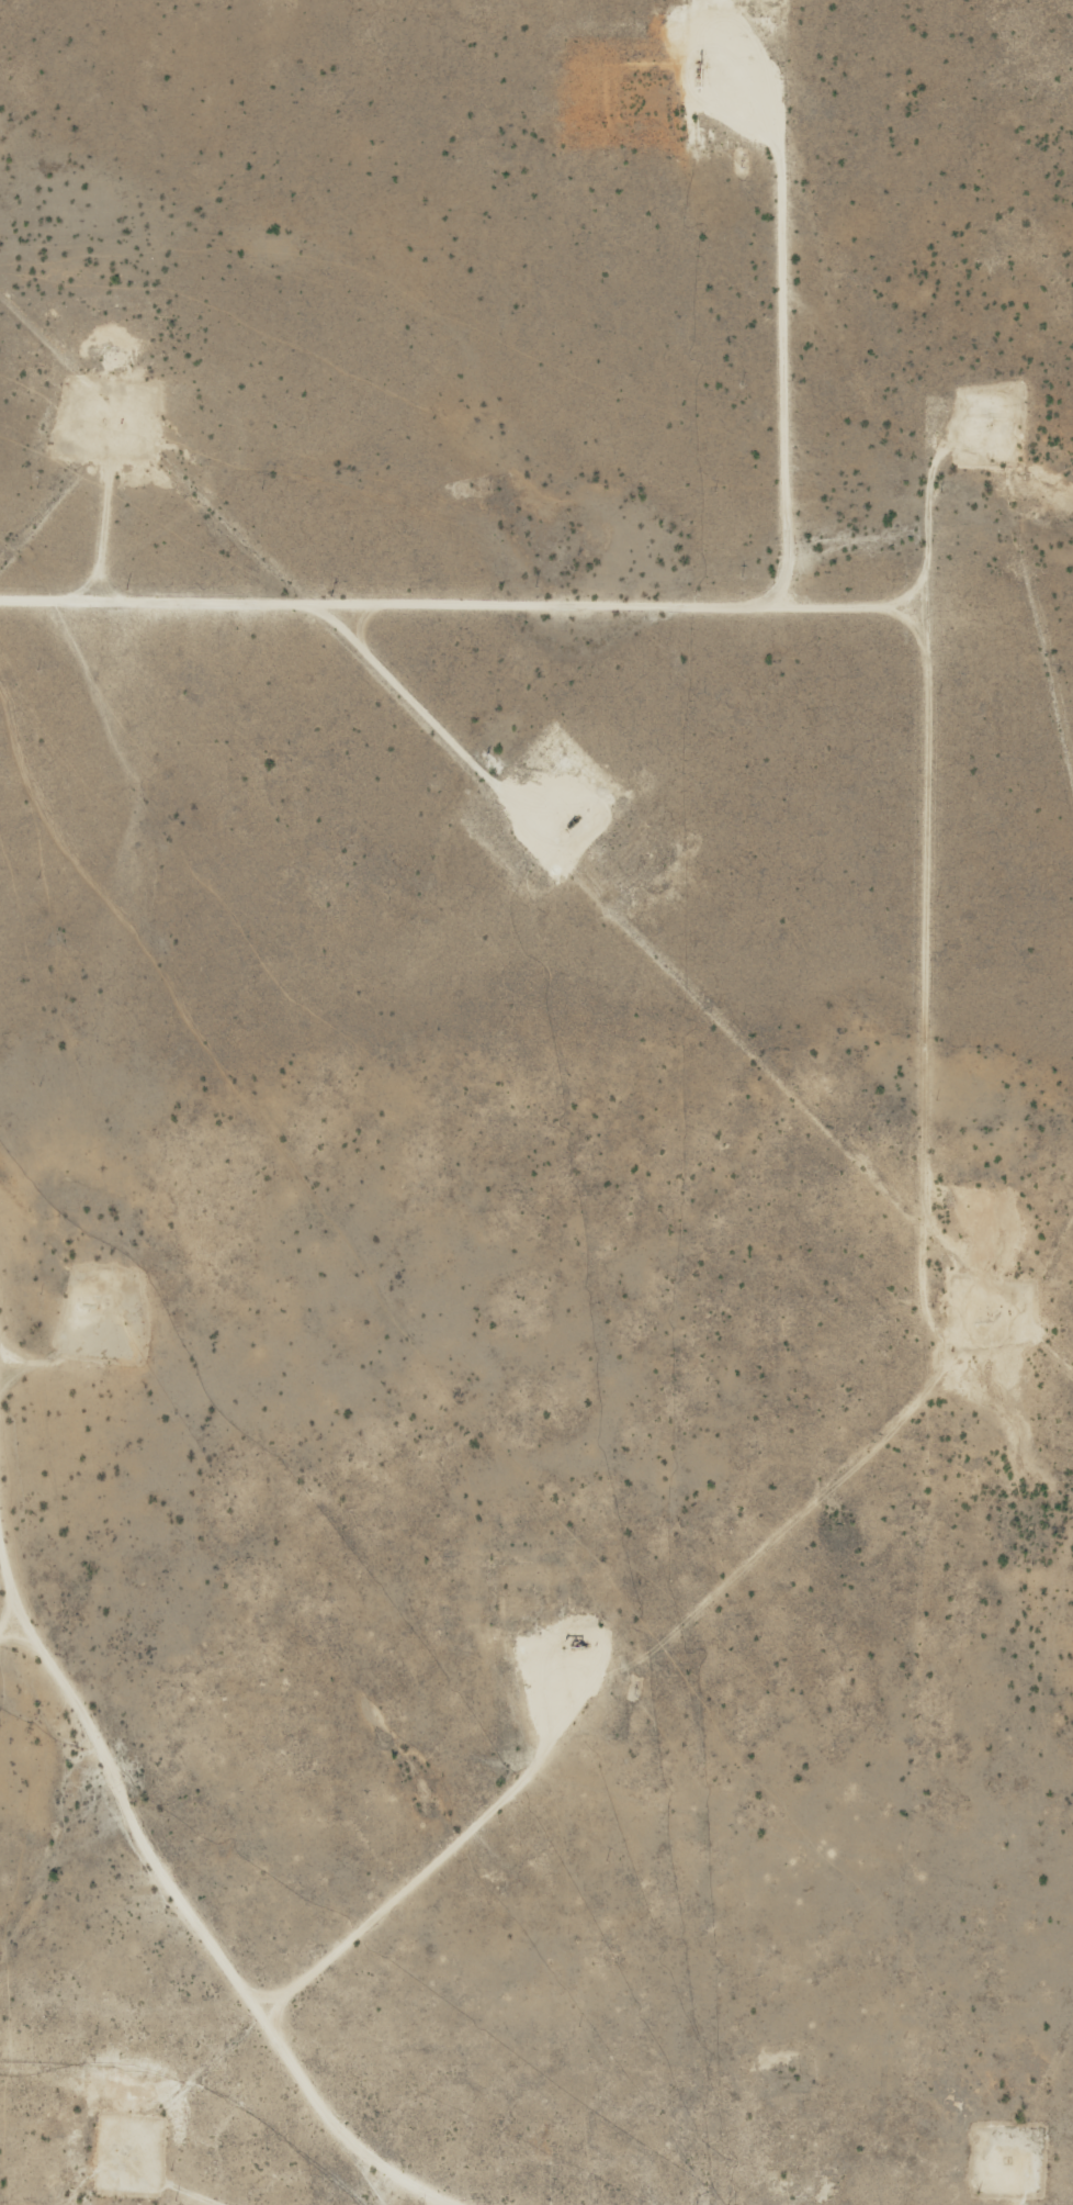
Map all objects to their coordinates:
road: (811, 580)
road: (200, 1938)

